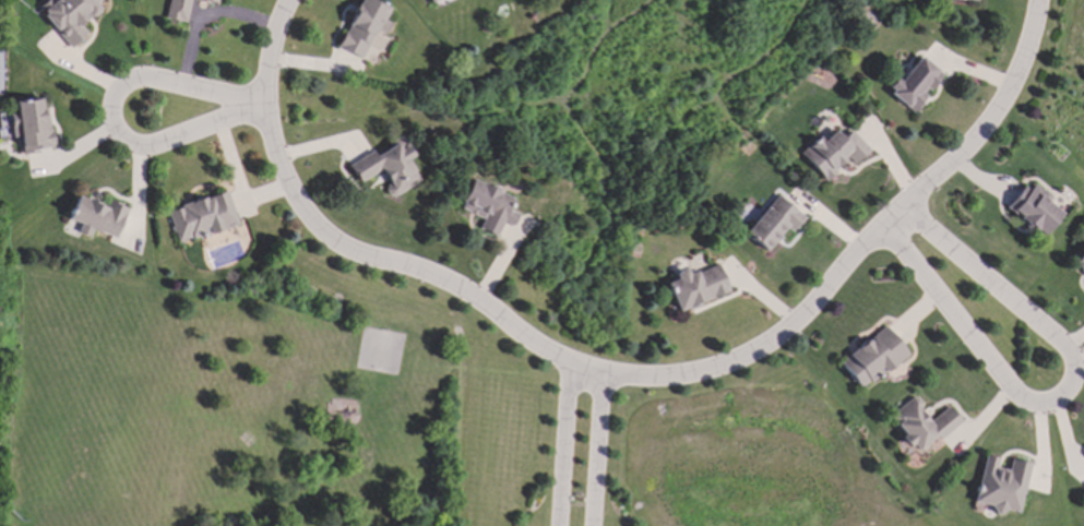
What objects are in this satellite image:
building: (428, 0)
building: (429, 0)
building: (968, 0)
building: (212, 1)
building: (177, 10)
building: (69, 17)
building: (364, 26)
building: (1, 72)
building: (914, 84)
road: (111, 116)
building: (31, 127)
building: (833, 153)
building: (388, 168)
building: (488, 207)
building: (1034, 210)
building: (96, 217)
building: (201, 217)
building: (773, 223)
building: (1080, 263)
building: (696, 287)
building: (872, 358)
road: (629, 379)
road: (1064, 396)
park: (189, 409)
building: (919, 427)
road: (565, 444)
road: (598, 452)
building: (1000, 486)

